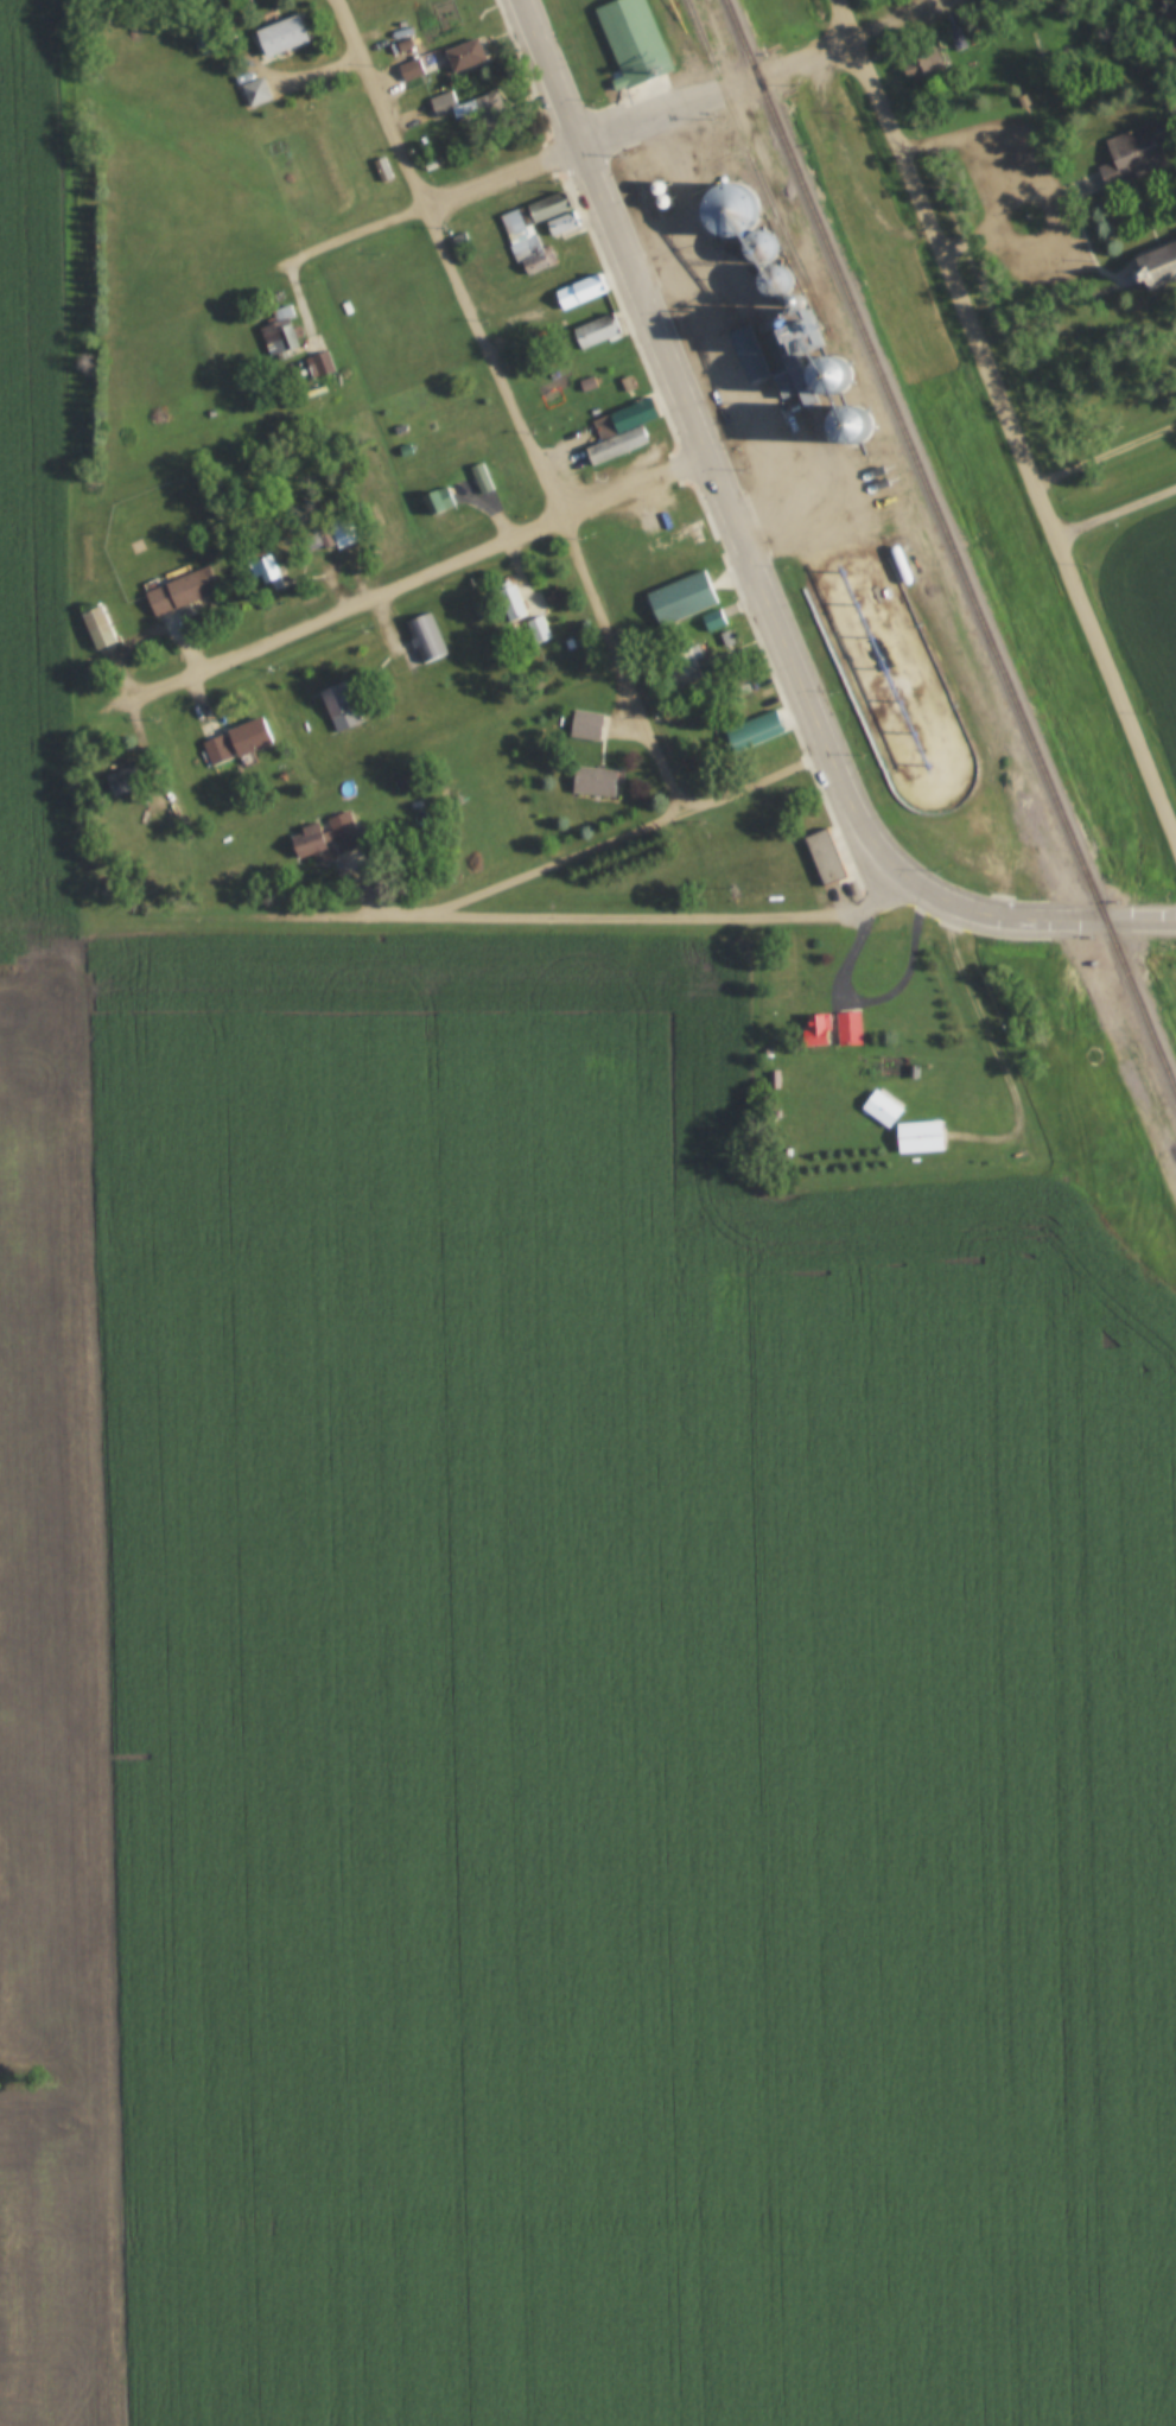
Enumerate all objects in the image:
building: (458, 20)
road: (845, 20)
building: (280, 36)
building: (633, 40)
building: (464, 56)
building: (921, 62)
building: (411, 70)
building: (471, 110)
road: (618, 128)
building: (1130, 154)
building: (383, 167)
building: (532, 231)
building: (1155, 265)
building: (579, 290)
building: (284, 330)
building: (595, 330)
road: (511, 405)
railway: (862, 425)
building: (619, 430)
road: (701, 437)
road: (1018, 439)
road: (1106, 450)
building: (438, 498)
road: (1115, 510)
building: (342, 531)
railway: (951, 545)
building: (266, 570)
road: (417, 578)
building: (179, 590)
building: (680, 597)
building: (526, 606)
building: (96, 627)
building: (425, 636)
building: (697, 647)
building: (339, 705)
building: (586, 724)
building: (759, 726)
building: (235, 741)
building: (121, 780)
building: (593, 780)
building: (324, 836)
road: (619, 836)
building: (822, 855)
road: (515, 917)
road: (1030, 917)
building: (831, 1028)
building: (917, 1136)

